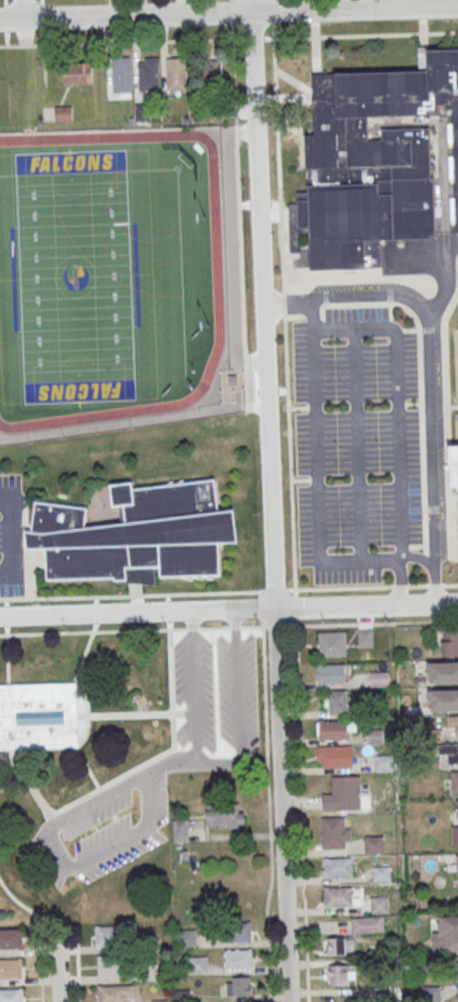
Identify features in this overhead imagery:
road: (272, 7)
road: (5, 11)
road: (22, 11)
road: (42, 11)
road: (228, 15)
road: (43, 32)
road: (355, 33)
road: (6, 34)
road: (242, 36)
road: (116, 40)
building: (213, 71)
building: (77, 73)
building: (148, 73)
building: (176, 75)
building: (121, 78)
building: (62, 113)
building: (372, 161)
road: (239, 217)
road: (281, 222)
track: (216, 244)
road: (231, 248)
park: (75, 276)
park: (76, 277)
road: (430, 351)
road: (250, 386)
road: (396, 402)
road: (132, 422)
parking lot: (356, 443)
road: (356, 443)
road: (290, 452)
building: (453, 465)
road: (315, 484)
road: (269, 501)
building: (137, 535)
road: (10, 538)
parking lot: (10, 539)
road: (401, 580)
road: (434, 582)
road: (229, 591)
road: (133, 592)
road: (228, 610)
road: (97, 614)
road: (6, 616)
road: (148, 630)
building: (365, 637)
building: (331, 643)
building: (450, 643)
road: (84, 657)
road: (7, 659)
building: (443, 672)
building: (331, 673)
building: (379, 678)
road: (194, 681)
road: (238, 682)
parking lot: (215, 693)
building: (443, 700)
building: (336, 702)
road: (137, 714)
building: (39, 716)
building: (452, 723)
building: (335, 729)
road: (298, 733)
road: (172, 741)
building: (452, 753)
building: (334, 756)
road: (170, 761)
building: (384, 763)
road: (218, 764)
road: (8, 765)
road: (90, 772)
building: (454, 781)
road: (34, 791)
building: (343, 794)
road: (269, 806)
building: (224, 815)
building: (455, 825)
parking lot: (105, 828)
building: (180, 830)
building: (335, 832)
building: (374, 846)
road: (65, 863)
building: (457, 863)
building: (337, 867)
building: (381, 874)
building: (340, 896)
road: (21, 904)
building: (380, 905)
building: (368, 924)
building: (237, 931)
building: (109, 934)
building: (446, 934)
building: (11, 938)
building: (187, 938)
building: (148, 943)
building: (335, 945)
building: (238, 958)
road: (42, 964)
road: (77, 964)
road: (59, 965)
building: (110, 965)
building: (10, 967)
building: (197, 967)
building: (457, 971)
building: (148, 973)
building: (337, 975)
building: (238, 985)
building: (111, 993)
building: (432, 993)
building: (382, 994)
building: (11, 995)
building: (160, 1001)

